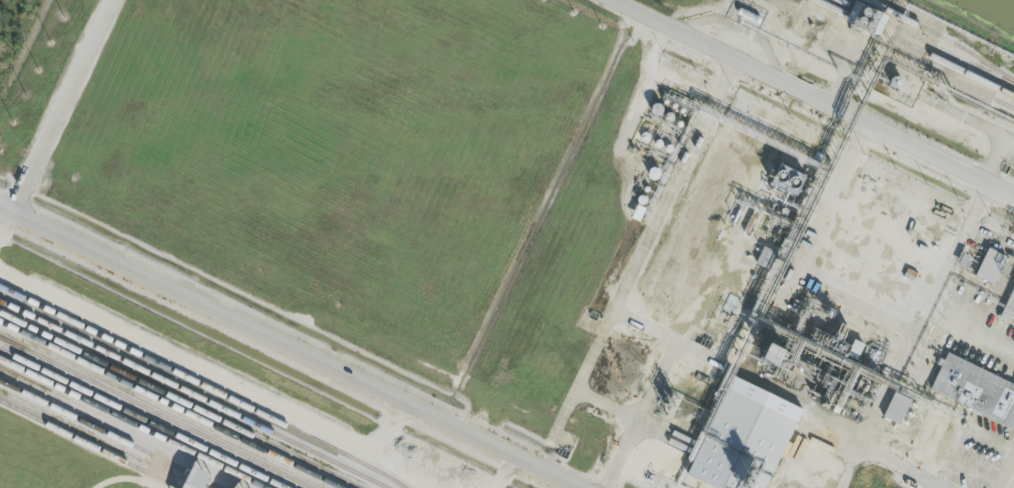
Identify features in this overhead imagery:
road: (813, 98)
road: (63, 105)
building: (764, 257)
building: (989, 265)
road: (948, 274)
building: (1010, 301)
building: (1004, 313)
railway: (3, 339)
road: (287, 346)
building: (769, 351)
railway: (204, 385)
building: (979, 393)
railway: (193, 394)
railway: (179, 400)
railway: (170, 404)
building: (895, 407)
railway: (154, 412)
railway: (142, 418)
railway: (131, 423)
railway: (109, 434)
building: (751, 441)
railway: (88, 444)
building: (192, 478)
building: (232, 486)

